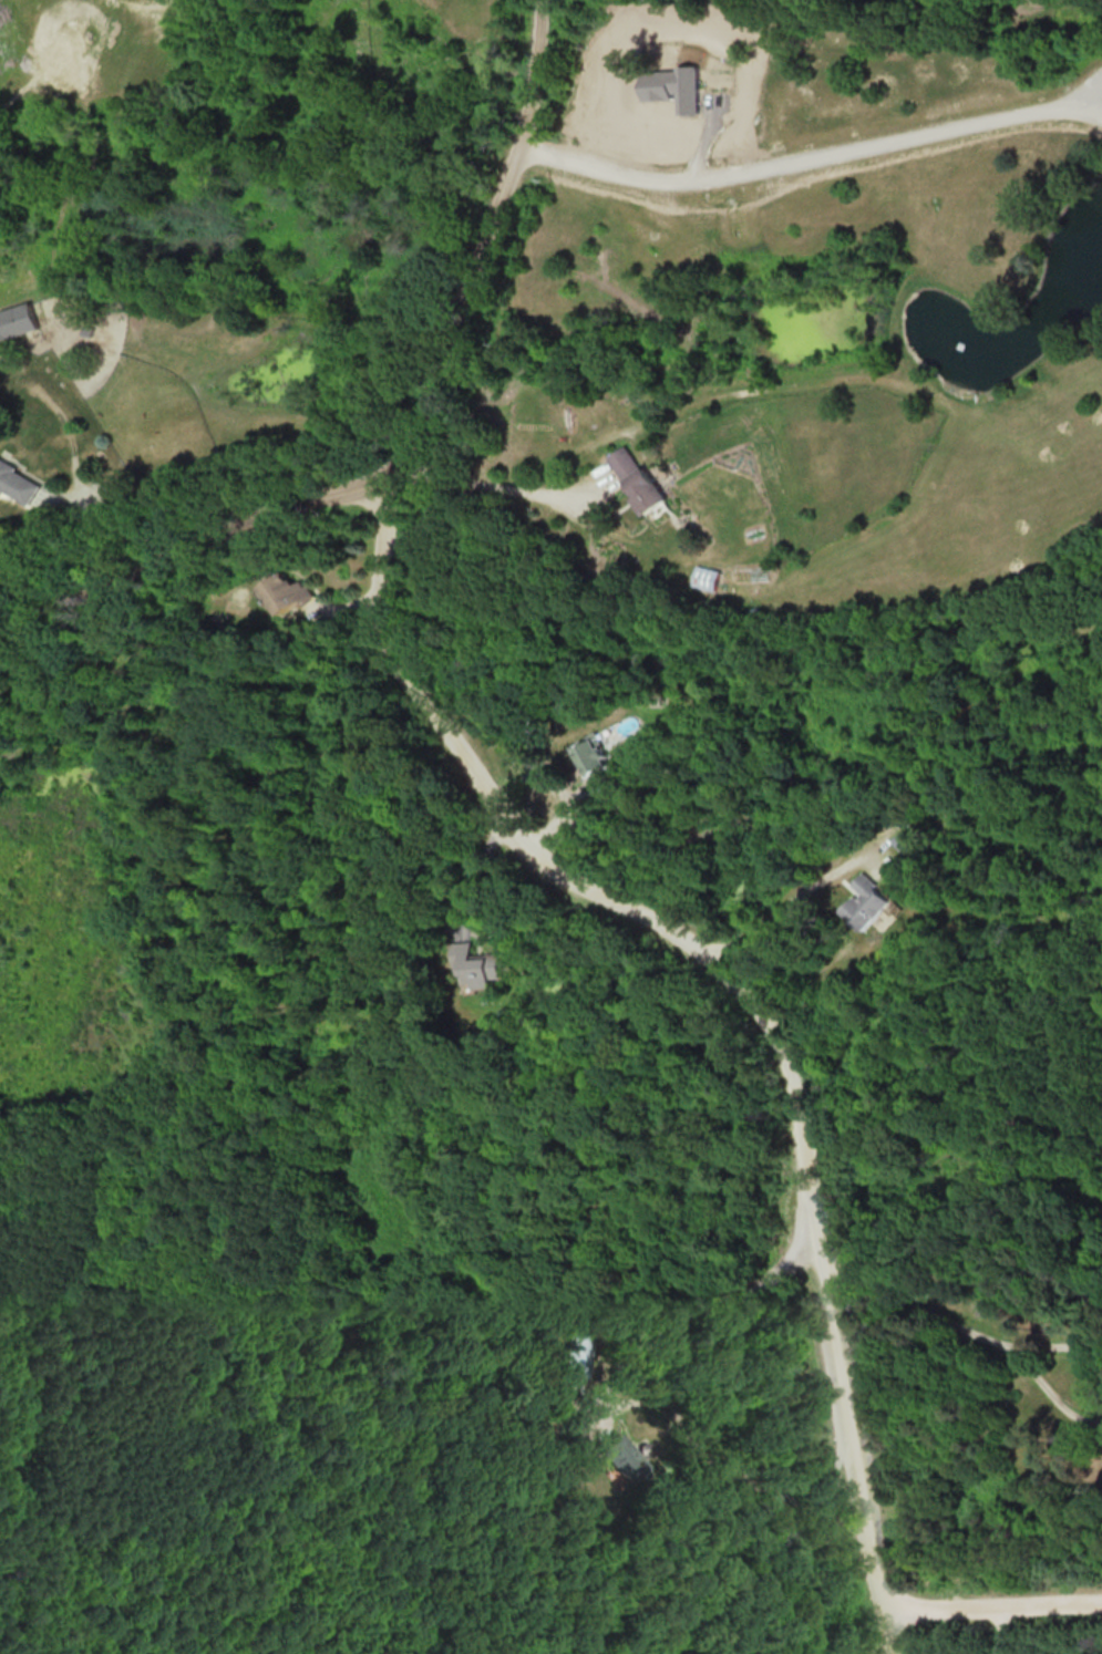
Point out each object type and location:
road: (136, 10)
building: (673, 87)
road: (812, 156)
building: (16, 320)
road: (409, 440)
building: (636, 479)
building: (19, 482)
road: (478, 495)
road: (117, 525)
building: (706, 578)
building: (284, 592)
building: (590, 754)
building: (864, 902)
road: (782, 904)
building: (477, 965)
road: (724, 978)
road: (912, 1307)
road: (1059, 1344)
building: (577, 1355)
road: (1050, 1398)
building: (624, 1457)
road: (734, 1471)
road: (990, 1598)
road: (1001, 1625)
road: (884, 1627)

